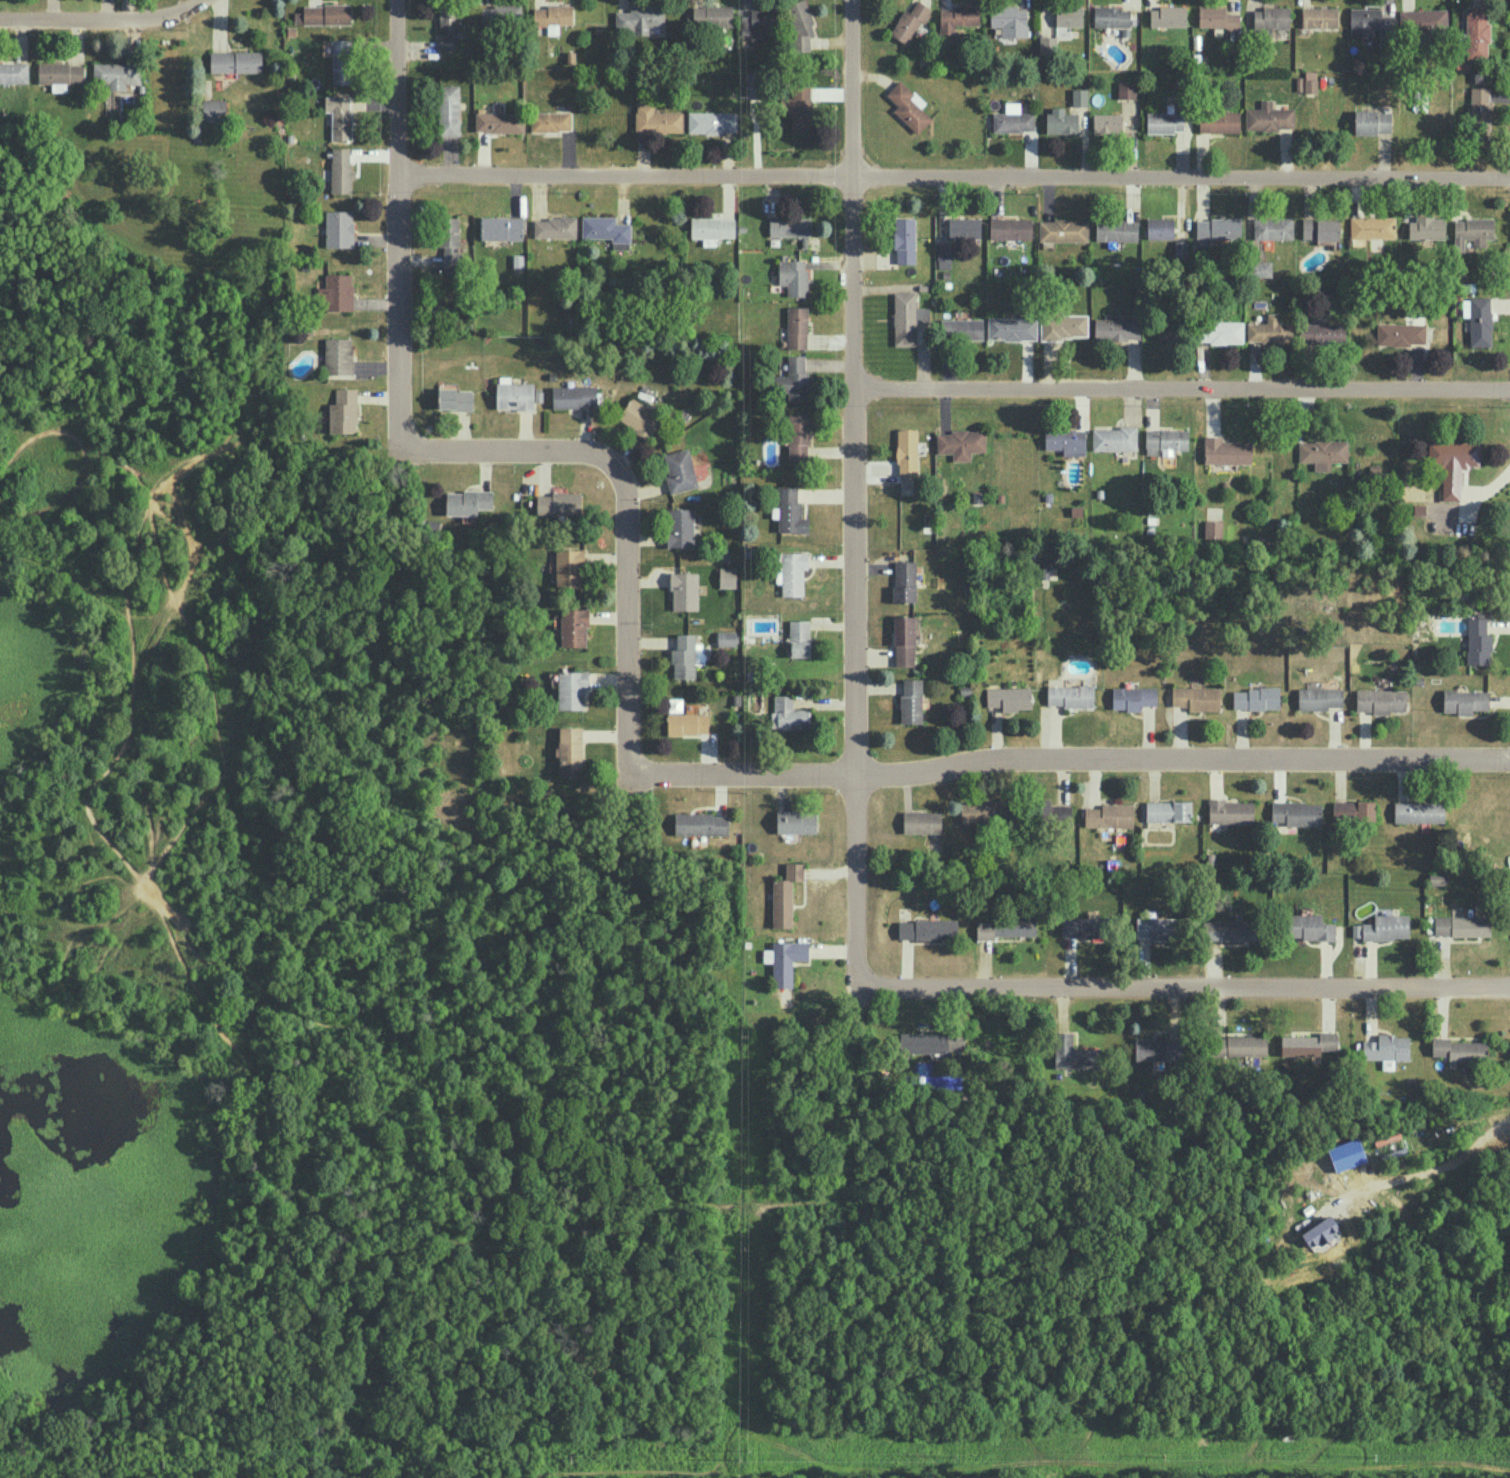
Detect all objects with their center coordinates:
building: (323, 14)
building: (500, 15)
building: (712, 15)
building: (1068, 15)
building: (1110, 15)
building: (553, 16)
building: (1168, 16)
building: (1319, 16)
road: (98, 17)
building: (957, 17)
building: (1216, 17)
building: (1270, 17)
building: (639, 18)
building: (1009, 20)
building: (910, 21)
building: (1422, 21)
building: (759, 23)
building: (1372, 24)
building: (800, 25)
building: (447, 26)
building: (1476, 32)
building: (1047, 44)
building: (341, 60)
building: (235, 61)
building: (14, 72)
building: (60, 74)
building: (116, 74)
building: (1306, 82)
building: (755, 84)
building: (1126, 89)
building: (1079, 96)
building: (908, 106)
building: (214, 109)
building: (448, 109)
building: (1480, 112)
building: (798, 113)
building: (339, 115)
building: (1268, 117)
building: (656, 119)
building: (1012, 119)
building: (1061, 120)
building: (499, 121)
building: (551, 121)
building: (712, 121)
building: (1219, 121)
building: (1372, 121)
building: (1164, 122)
building: (1107, 123)
building: (341, 170)
road: (952, 178)
road: (396, 221)
building: (789, 226)
building: (1372, 226)
building: (501, 227)
building: (554, 227)
building: (964, 227)
building: (1159, 227)
building: (1272, 227)
building: (1427, 227)
building: (339, 228)
building: (1010, 228)
building: (1218, 228)
building: (1320, 228)
building: (606, 230)
building: (1063, 230)
building: (1116, 230)
building: (1472, 232)
building: (904, 240)
building: (450, 244)
building: (1180, 248)
building: (944, 255)
building: (1260, 268)
building: (793, 276)
building: (336, 292)
building: (907, 317)
building: (1478, 319)
building: (1063, 325)
building: (796, 327)
building: (1116, 327)
building: (961, 328)
building: (1011, 328)
building: (1269, 330)
building: (1219, 331)
building: (1322, 332)
building: (1400, 333)
building: (338, 355)
building: (794, 379)
road: (1182, 388)
building: (574, 395)
building: (516, 396)
building: (455, 398)
building: (343, 411)
building: (639, 417)
building: (798, 436)
building: (1114, 438)
building: (1065, 440)
building: (1165, 440)
building: (959, 443)
road: (512, 448)
building: (1225, 450)
building: (907, 451)
building: (1322, 452)
building: (1452, 463)
building: (680, 470)
road: (855, 490)
building: (467, 501)
building: (558, 503)
building: (790, 511)
building: (680, 527)
building: (1212, 528)
building: (569, 567)
building: (791, 572)
building: (727, 577)
building: (904, 580)
building: (684, 590)
road: (627, 616)
building: (573, 627)
building: (727, 637)
building: (799, 637)
building: (904, 640)
building: (1478, 641)
building: (684, 656)
building: (571, 689)
building: (1070, 695)
building: (1322, 695)
building: (1009, 697)
building: (1132, 697)
building: (1196, 697)
building: (1256, 698)
building: (911, 700)
building: (1380, 700)
building: (1464, 701)
building: (788, 713)
building: (687, 723)
building: (570, 751)
road: (1071, 756)
building: (1168, 810)
building: (984, 811)
building: (1053, 811)
building: (1230, 811)
building: (1353, 811)
building: (1418, 811)
building: (1295, 813)
building: (1109, 815)
building: (796, 821)
building: (921, 821)
building: (701, 823)
building: (785, 895)
building: (1461, 925)
building: (1005, 926)
building: (1083, 926)
building: (1309, 927)
building: (1383, 927)
building: (1156, 928)
building: (927, 929)
building: (1230, 929)
building: (784, 960)
road: (1183, 986)
building: (932, 1042)
building: (1308, 1044)
building: (1238, 1045)
building: (1156, 1048)
building: (1386, 1049)
building: (1459, 1049)
building: (1073, 1052)
road: (1438, 1167)
building: (1319, 1231)

